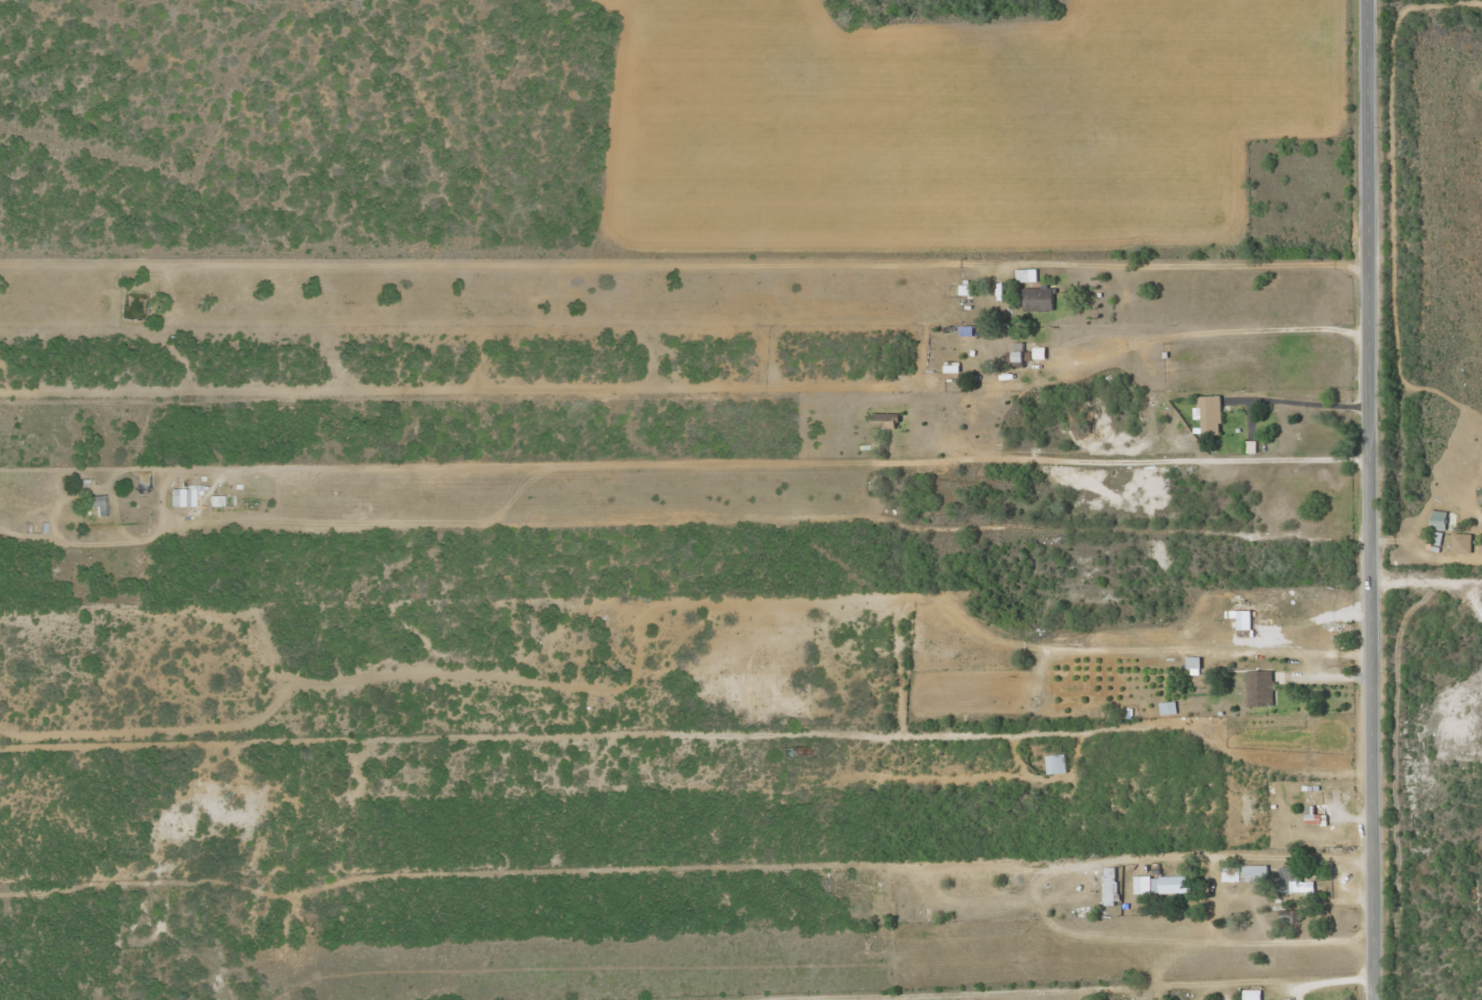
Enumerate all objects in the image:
building: (1025, 274)
building: (1037, 298)
road: (187, 384)
building: (1210, 414)
building: (883, 420)
road: (1366, 500)
building: (95, 504)
road: (707, 504)
road: (1424, 531)
building: (1434, 539)
building: (1193, 662)
building: (1259, 688)
building: (1167, 707)
building: (1055, 763)
building: (1312, 815)
building: (1244, 873)
building: (1291, 879)
building: (1174, 884)
building: (1108, 890)

